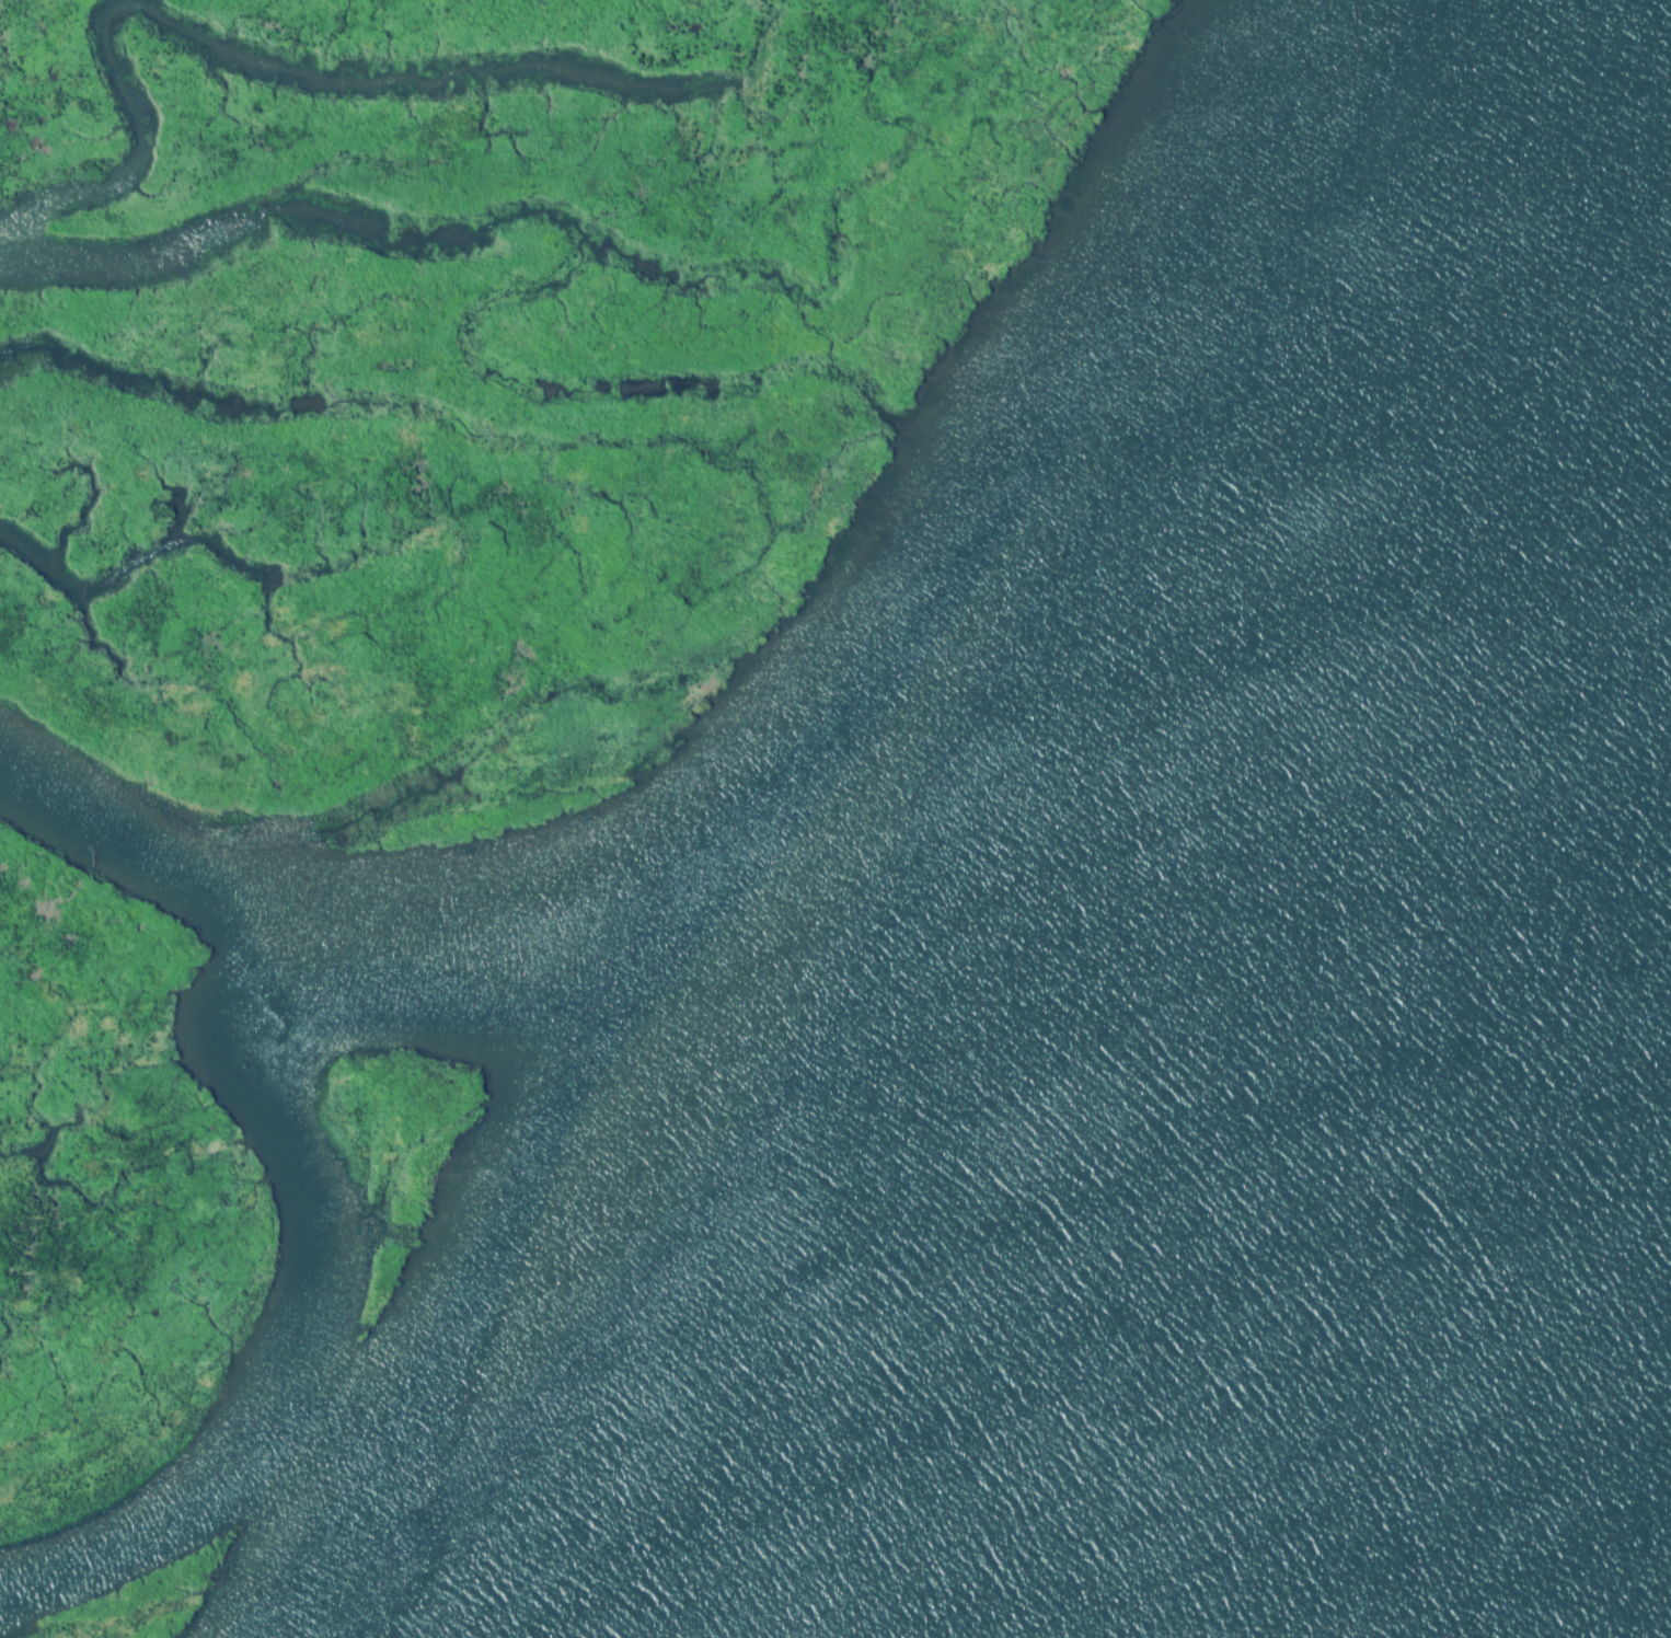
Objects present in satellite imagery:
river: (1570, 1480)

